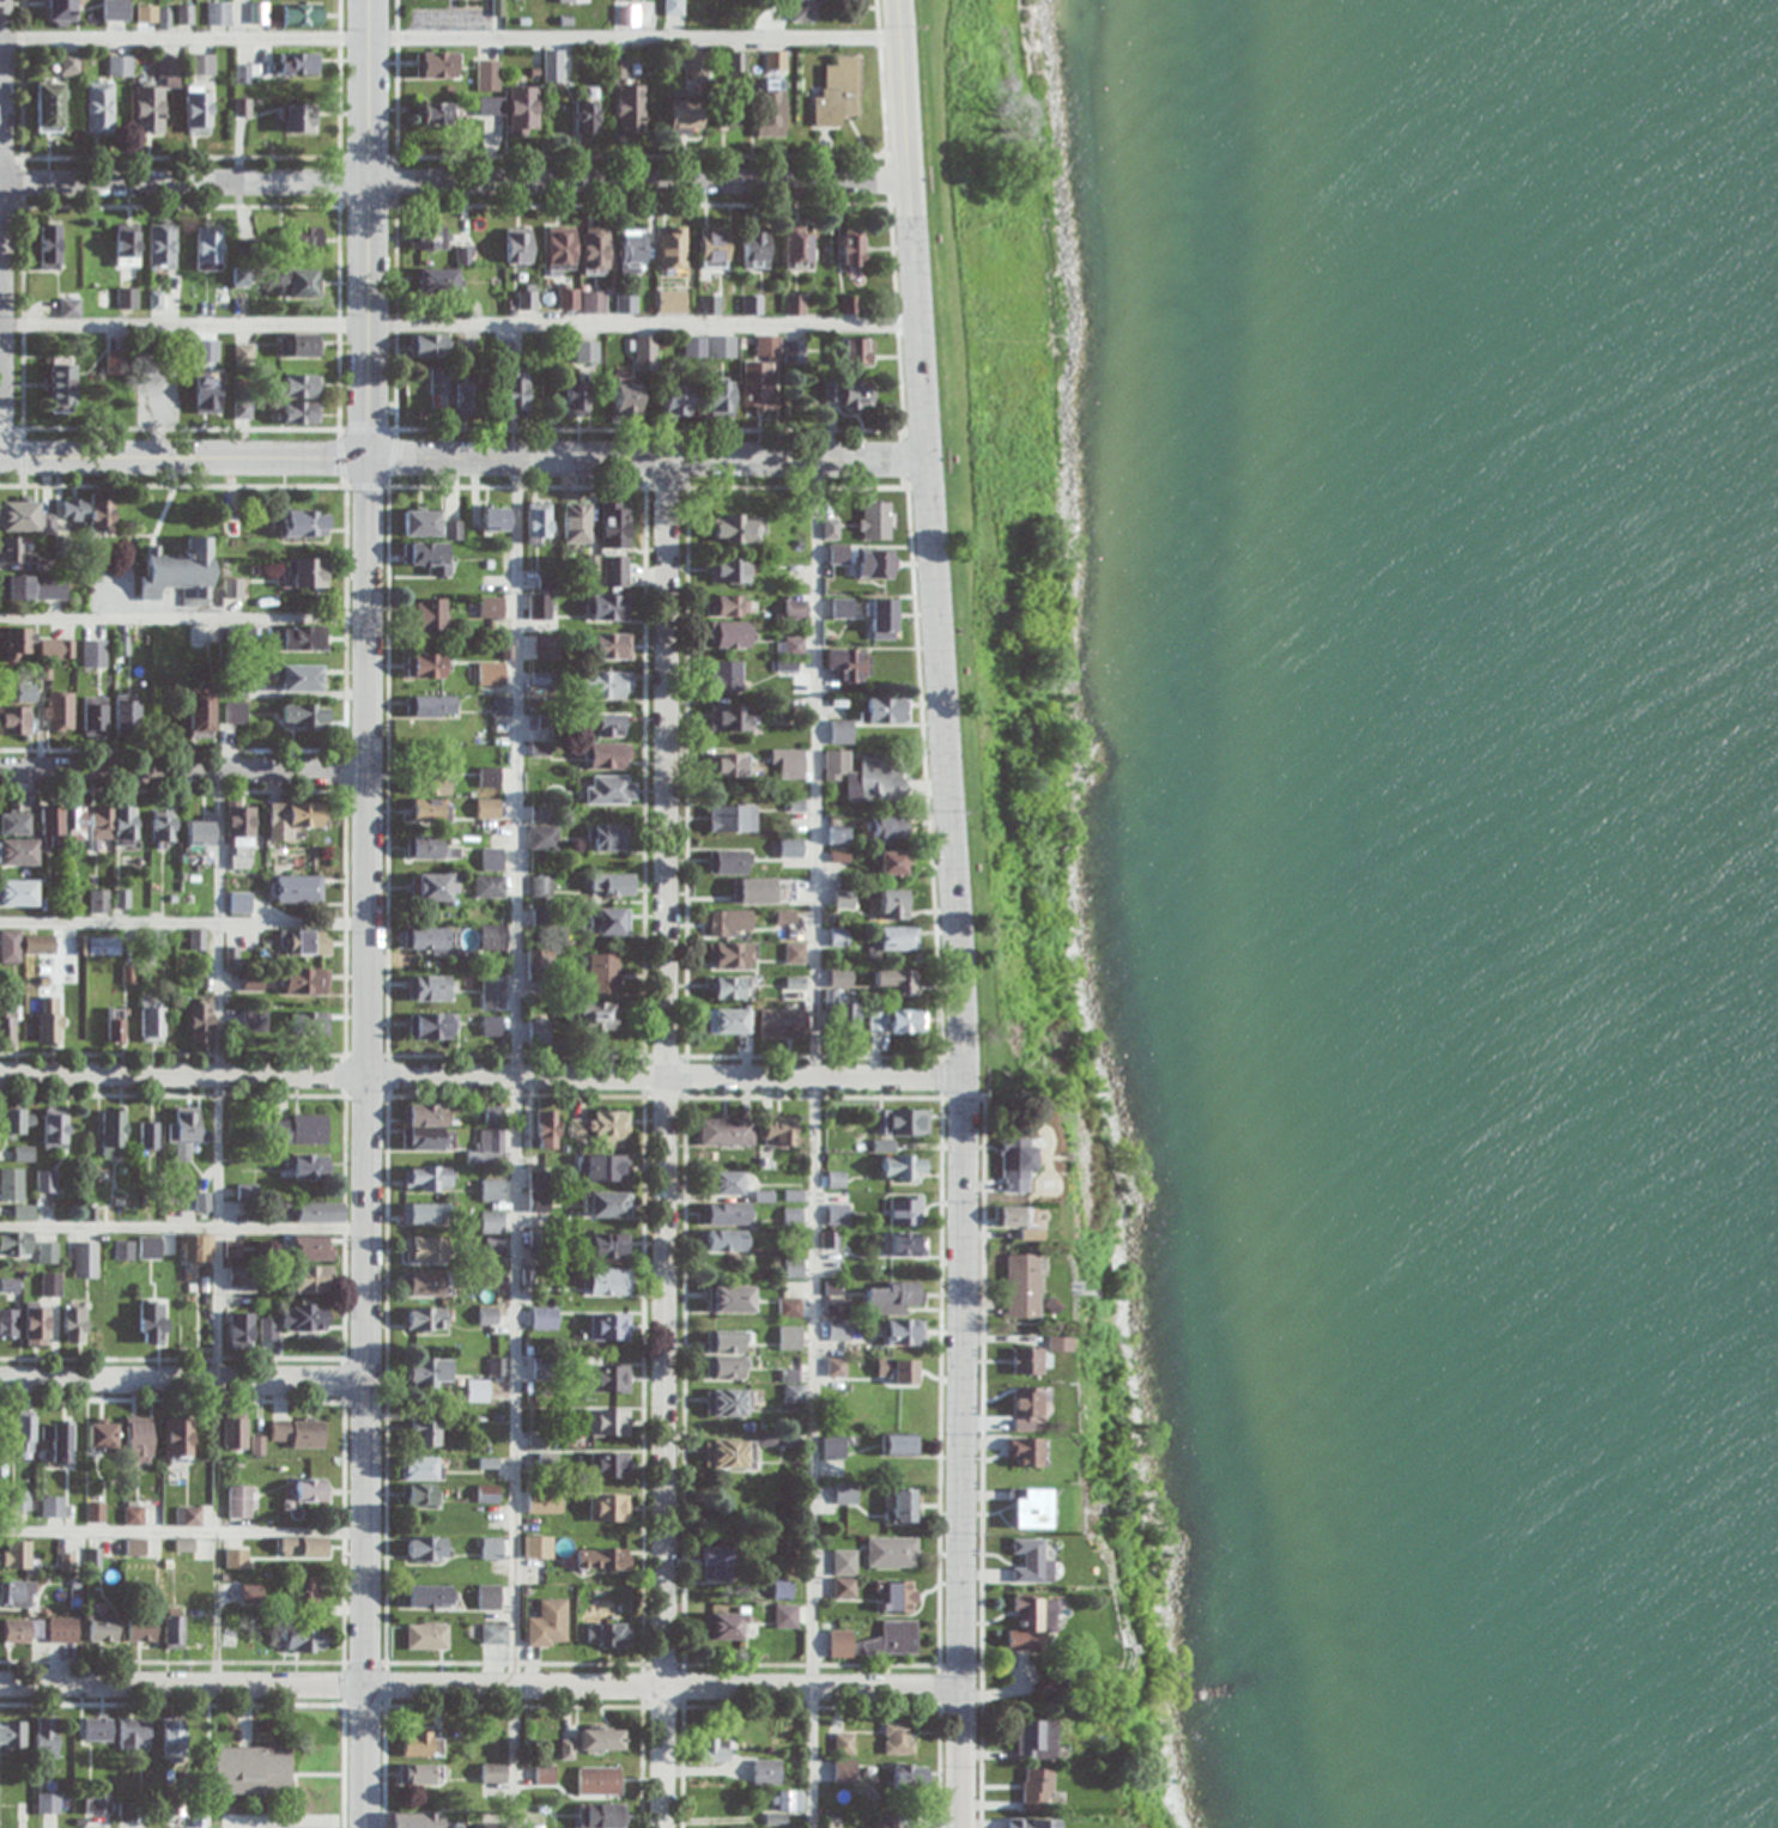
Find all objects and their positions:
building: (571, 1)
building: (494, 6)
building: (673, 7)
building: (115, 10)
building: (803, 10)
building: (60, 11)
building: (218, 13)
building: (257, 13)
building: (301, 14)
road: (450, 40)
building: (775, 60)
building: (69, 63)
building: (201, 63)
building: (297, 63)
building: (436, 63)
building: (553, 65)
building: (119, 66)
building: (168, 68)
building: (244, 73)
building: (489, 75)
building: (837, 93)
building: (491, 105)
building: (48, 107)
building: (98, 107)
building: (148, 109)
building: (198, 109)
building: (630, 110)
building: (769, 110)
building: (522, 111)
building: (437, 113)
building: (685, 115)
building: (585, 116)
building: (297, 119)
road: (454, 181)
building: (429, 237)
building: (305, 238)
building: (127, 245)
building: (49, 247)
building: (162, 247)
building: (517, 247)
building: (672, 247)
building: (712, 247)
building: (754, 247)
building: (797, 247)
building: (851, 247)
building: (208, 248)
building: (560, 250)
building: (594, 250)
building: (631, 251)
building: (438, 279)
building: (301, 283)
building: (527, 297)
building: (128, 298)
building: (568, 299)
building: (670, 300)
building: (593, 302)
building: (625, 302)
building: (709, 304)
building: (751, 304)
building: (794, 304)
building: (849, 304)
building: (69, 308)
road: (459, 326)
building: (301, 345)
building: (427, 345)
building: (216, 347)
building: (709, 347)
building: (856, 350)
building: (587, 352)
building: (642, 352)
building: (794, 352)
building: (244, 353)
building: (119, 363)
building: (760, 376)
building: (439, 382)
building: (60, 384)
building: (302, 385)
building: (208, 393)
building: (850, 395)
building: (514, 396)
building: (576, 397)
building: (721, 397)
building: (466, 399)
building: (625, 399)
building: (676, 400)
building: (302, 412)
road: (462, 456)
building: (74, 509)
building: (103, 514)
building: (18, 516)
building: (494, 518)
building: (421, 522)
building: (873, 522)
building: (303, 523)
building: (539, 523)
building: (576, 523)
building: (48, 524)
building: (614, 524)
building: (738, 528)
building: (831, 528)
building: (453, 529)
building: (12, 549)
building: (838, 553)
building: (430, 557)
building: (876, 563)
building: (728, 570)
building: (615, 571)
building: (180, 572)
building: (307, 572)
building: (32, 589)
building: (538, 601)
building: (491, 602)
building: (728, 606)
building: (841, 608)
building: (795, 609)
road: (183, 615)
building: (431, 615)
building: (882, 619)
building: (730, 634)
building: (200, 637)
building: (299, 638)
building: (18, 642)
building: (611, 645)
building: (791, 645)
building: (56, 649)
building: (165, 651)
building: (95, 654)
building: (849, 663)
building: (429, 664)
building: (491, 673)
building: (724, 676)
building: (298, 678)
building: (607, 685)
building: (431, 706)
building: (201, 709)
building: (779, 709)
building: (884, 710)
building: (59, 712)
building: (235, 712)
building: (127, 713)
building: (95, 716)
building: (304, 716)
building: (732, 717)
building: (14, 721)
building: (609, 724)
building: (841, 731)
building: (607, 755)
building: (788, 763)
building: (728, 765)
road: (183, 770)
building: (489, 776)
building: (864, 776)
building: (433, 783)
building: (609, 790)
building: (489, 808)
building: (429, 809)
building: (539, 813)
building: (730, 818)
building: (293, 819)
building: (13, 824)
building: (238, 824)
building: (113, 825)
building: (63, 826)
building: (163, 828)
building: (888, 830)
building: (200, 834)
building: (606, 837)
building: (544, 838)
building: (429, 848)
building: (790, 848)
building: (17, 852)
building: (492, 858)
building: (728, 862)
building: (892, 864)
building: (612, 885)
building: (490, 886)
building: (542, 886)
building: (433, 887)
building: (298, 888)
building: (761, 891)
building: (17, 893)
building: (843, 900)
building: (101, 901)
building: (241, 903)
building: (892, 906)
road: (954, 912)
road: (366, 913)
building: (607, 922)
building: (729, 923)
road: (183, 924)
building: (493, 937)
building: (839, 937)
building: (196, 939)
building: (430, 940)
building: (897, 940)
building: (304, 942)
building: (40, 945)
building: (10, 946)
building: (98, 946)
building: (730, 955)
building: (536, 962)
building: (603, 973)
building: (839, 978)
building: (896, 980)
building: (305, 982)
building: (427, 988)
building: (727, 988)
building: (596, 1015)
building: (844, 1018)
building: (49, 1021)
building: (200, 1021)
building: (727, 1021)
building: (906, 1021)
building: (152, 1022)
building: (310, 1022)
building: (782, 1024)
building: (8, 1026)
building: (115, 1026)
building: (431, 1026)
building: (491, 1027)
building: (539, 1032)
road: (217, 1073)
road: (481, 1074)
building: (493, 1115)
building: (14, 1122)
building: (905, 1122)
building: (426, 1126)
building: (603, 1128)
building: (54, 1129)
building: (301, 1129)
building: (545, 1129)
building: (183, 1130)
building: (726, 1131)
building: (778, 1131)
building: (113, 1134)
building: (148, 1136)
road: (516, 1141)
road: (663, 1142)
road: (814, 1142)
building: (487, 1148)
building: (24, 1153)
building: (1017, 1164)
building: (305, 1166)
building: (601, 1167)
building: (902, 1167)
building: (426, 1178)
building: (835, 1180)
building: (45, 1182)
building: (727, 1183)
building: (11, 1184)
building: (491, 1190)
building: (606, 1203)
building: (905, 1210)
building: (317, 1211)
building: (425, 1213)
building: (724, 1213)
building: (837, 1214)
building: (793, 1216)
building: (1009, 1216)
building: (491, 1221)
road: (182, 1225)
building: (727, 1240)
building: (831, 1240)
building: (14, 1243)
building: (906, 1244)
building: (608, 1246)
building: (150, 1247)
building: (196, 1247)
building: (311, 1247)
building: (426, 1249)
building: (125, 1250)
building: (48, 1252)
building: (85, 1259)
building: (793, 1269)
building: (237, 1276)
building: (312, 1279)
building: (607, 1281)
building: (425, 1282)
building: (50, 1283)
building: (10, 1285)
building: (1021, 1286)
building: (729, 1299)
building: (837, 1306)
building: (303, 1316)
building: (487, 1316)
building: (544, 1318)
building: (425, 1319)
building: (151, 1320)
building: (10, 1323)
building: (36, 1324)
building: (73, 1324)
building: (609, 1326)
building: (239, 1329)
building: (839, 1329)
building: (904, 1331)
building: (789, 1337)
building: (726, 1354)
building: (1037, 1355)
building: (497, 1366)
building: (836, 1367)
building: (897, 1371)
building: (427, 1372)
road: (182, 1378)
building: (609, 1378)
building: (478, 1390)
building: (727, 1402)
building: (1026, 1407)
building: (609, 1422)
building: (233, 1432)
building: (24, 1433)
building: (297, 1433)
building: (425, 1433)
building: (101, 1434)
building: (136, 1439)
building: (178, 1439)
building: (540, 1440)
building: (57, 1441)
building: (900, 1445)
building: (833, 1446)
building: (1026, 1452)
building: (729, 1454)
building: (608, 1465)
building: (421, 1468)
building: (311, 1490)
building: (486, 1493)
building: (419, 1494)
building: (845, 1494)
building: (22, 1501)
building: (239, 1501)
building: (545, 1502)
building: (902, 1505)
building: (51, 1507)
building: (607, 1507)
building: (1028, 1507)
building: (188, 1516)
road: (182, 1529)
building: (484, 1543)
building: (134, 1547)
building: (302, 1547)
building: (538, 1548)
building: (427, 1549)
building: (892, 1551)
building: (16, 1555)
building: (236, 1559)
building: (601, 1559)
building: (1032, 1561)
building: (716, 1563)
building: (844, 1573)
building: (305, 1591)
building: (250, 1592)
building: (16, 1593)
building: (426, 1596)
building: (896, 1596)
building: (487, 1597)
building: (785, 1616)
building: (1032, 1623)
building: (547, 1624)
building: (724, 1626)
building: (103, 1628)
building: (22, 1632)
building: (62, 1632)
building: (141, 1632)
building: (172, 1632)
building: (493, 1634)
building: (608, 1635)
building: (426, 1636)
building: (303, 1639)
building: (893, 1639)
building: (841, 1644)
road: (480, 1684)
building: (97, 1729)
building: (11, 1735)
building: (134, 1735)
building: (45, 1737)
building: (899, 1737)
building: (601, 1739)
building: (1036, 1739)
building: (171, 1741)
building: (421, 1743)
building: (844, 1744)
building: (712, 1749)
building: (251, 1771)
building: (844, 1771)
building: (766, 1772)
building: (419, 1773)
building: (492, 1773)
building: (545, 1774)
building: (908, 1775)
building: (597, 1781)
building: (1036, 1790)
building: (787, 1800)
building: (48, 1803)
building: (98, 1804)
building: (127, 1811)
building: (600, 1816)
building: (414, 1820)
building: (891, 1822)
building: (1032, 1822)

